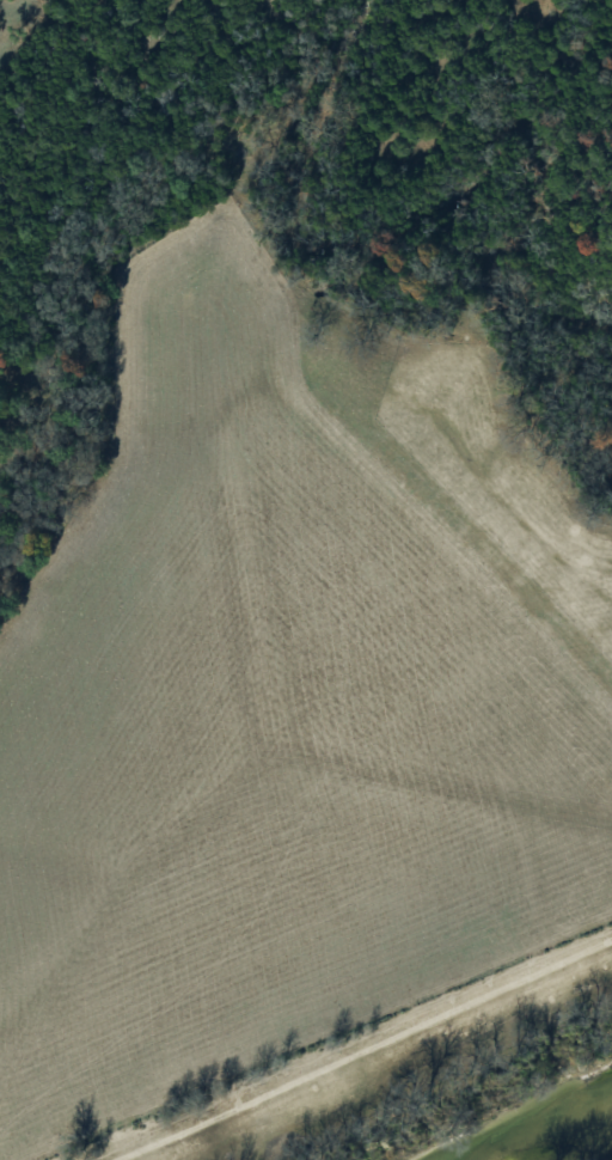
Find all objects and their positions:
river: (524, 1129)

